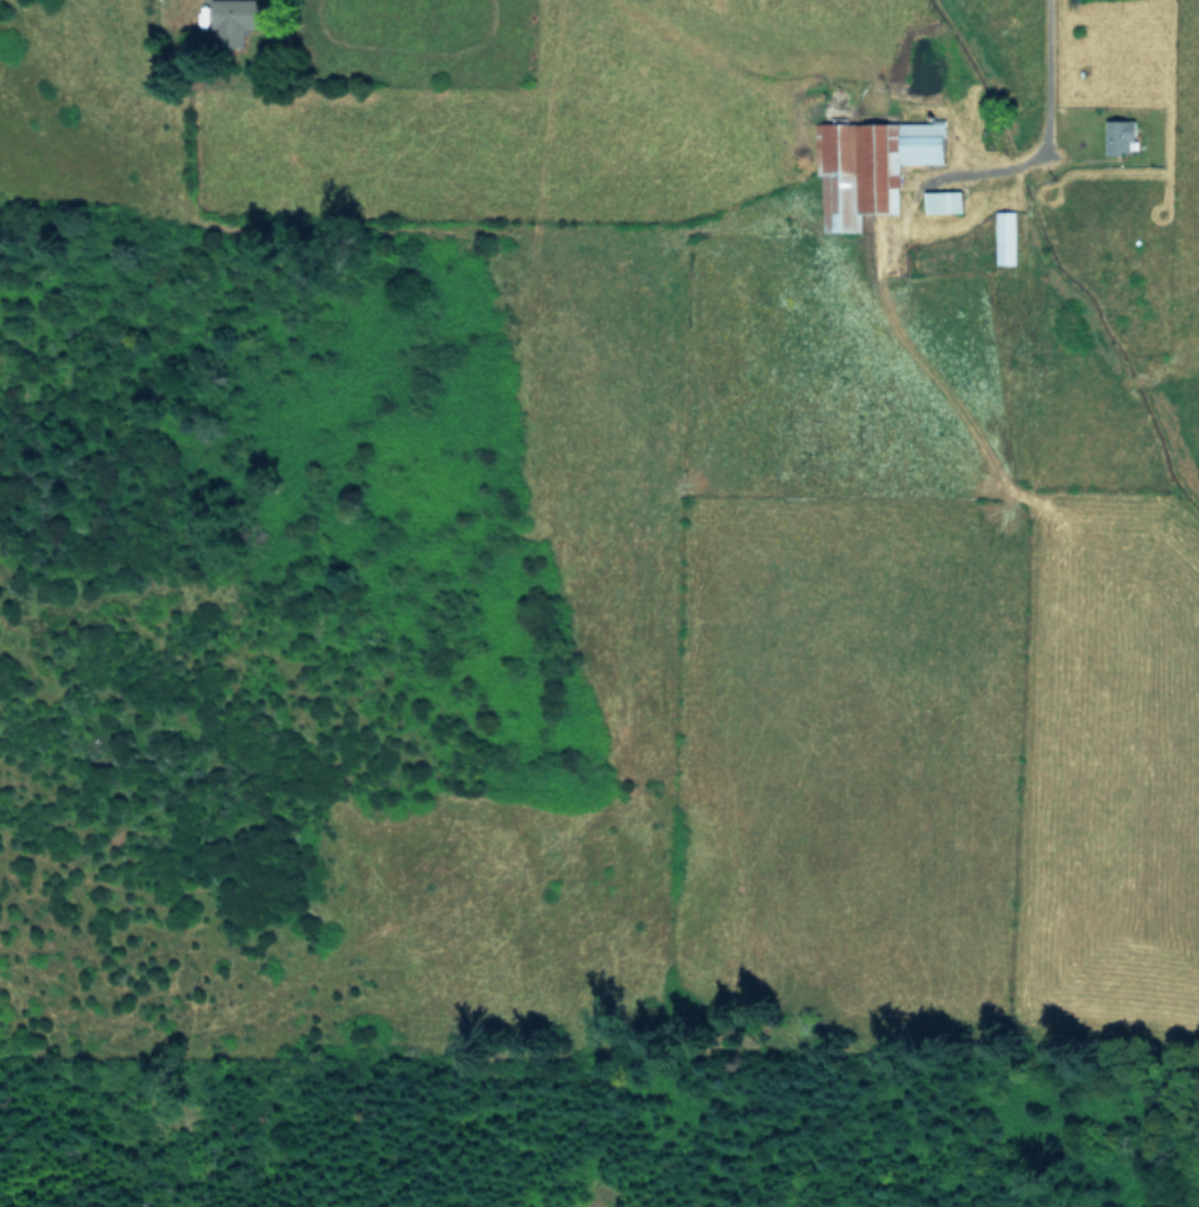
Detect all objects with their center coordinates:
road: (1043, 90)
building: (1118, 135)
building: (921, 142)
building: (853, 172)
building: (1004, 237)

